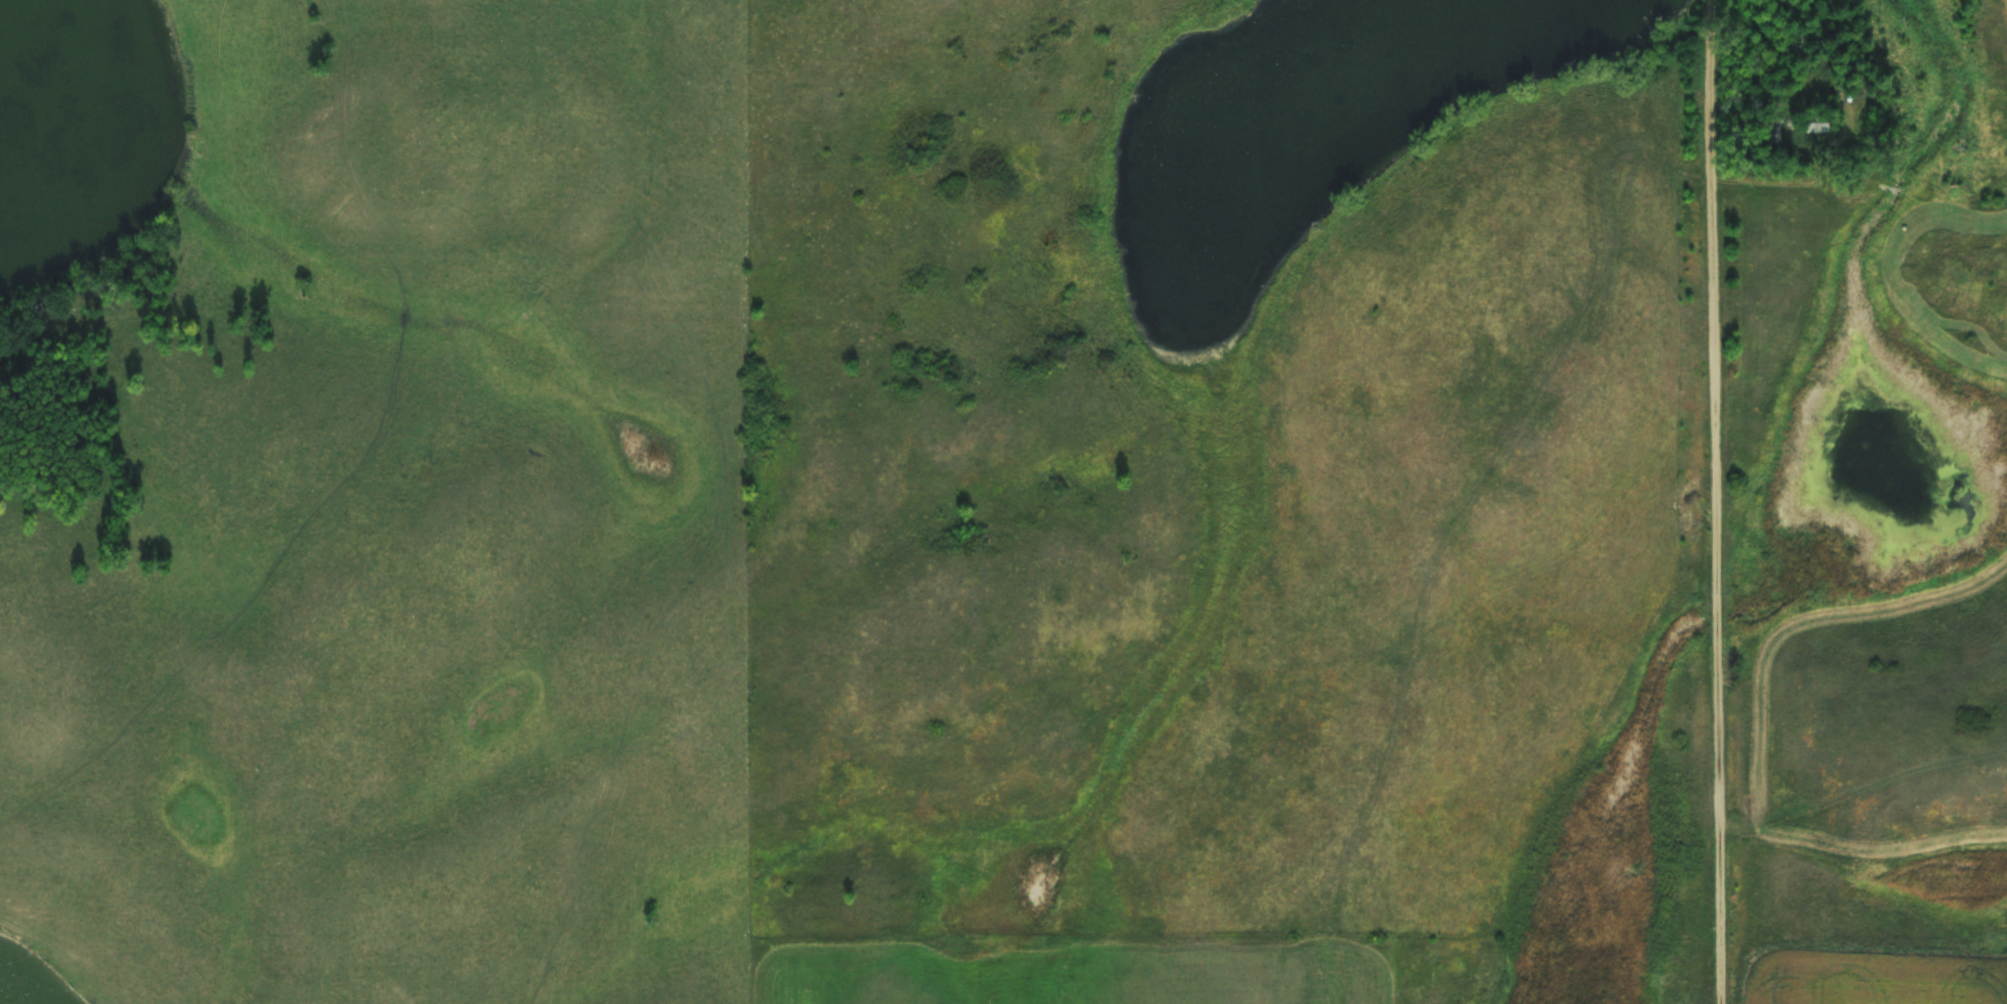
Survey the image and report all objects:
building: (1815, 127)
river: (1874, 440)
road: (1715, 502)
road: (1648, 535)

